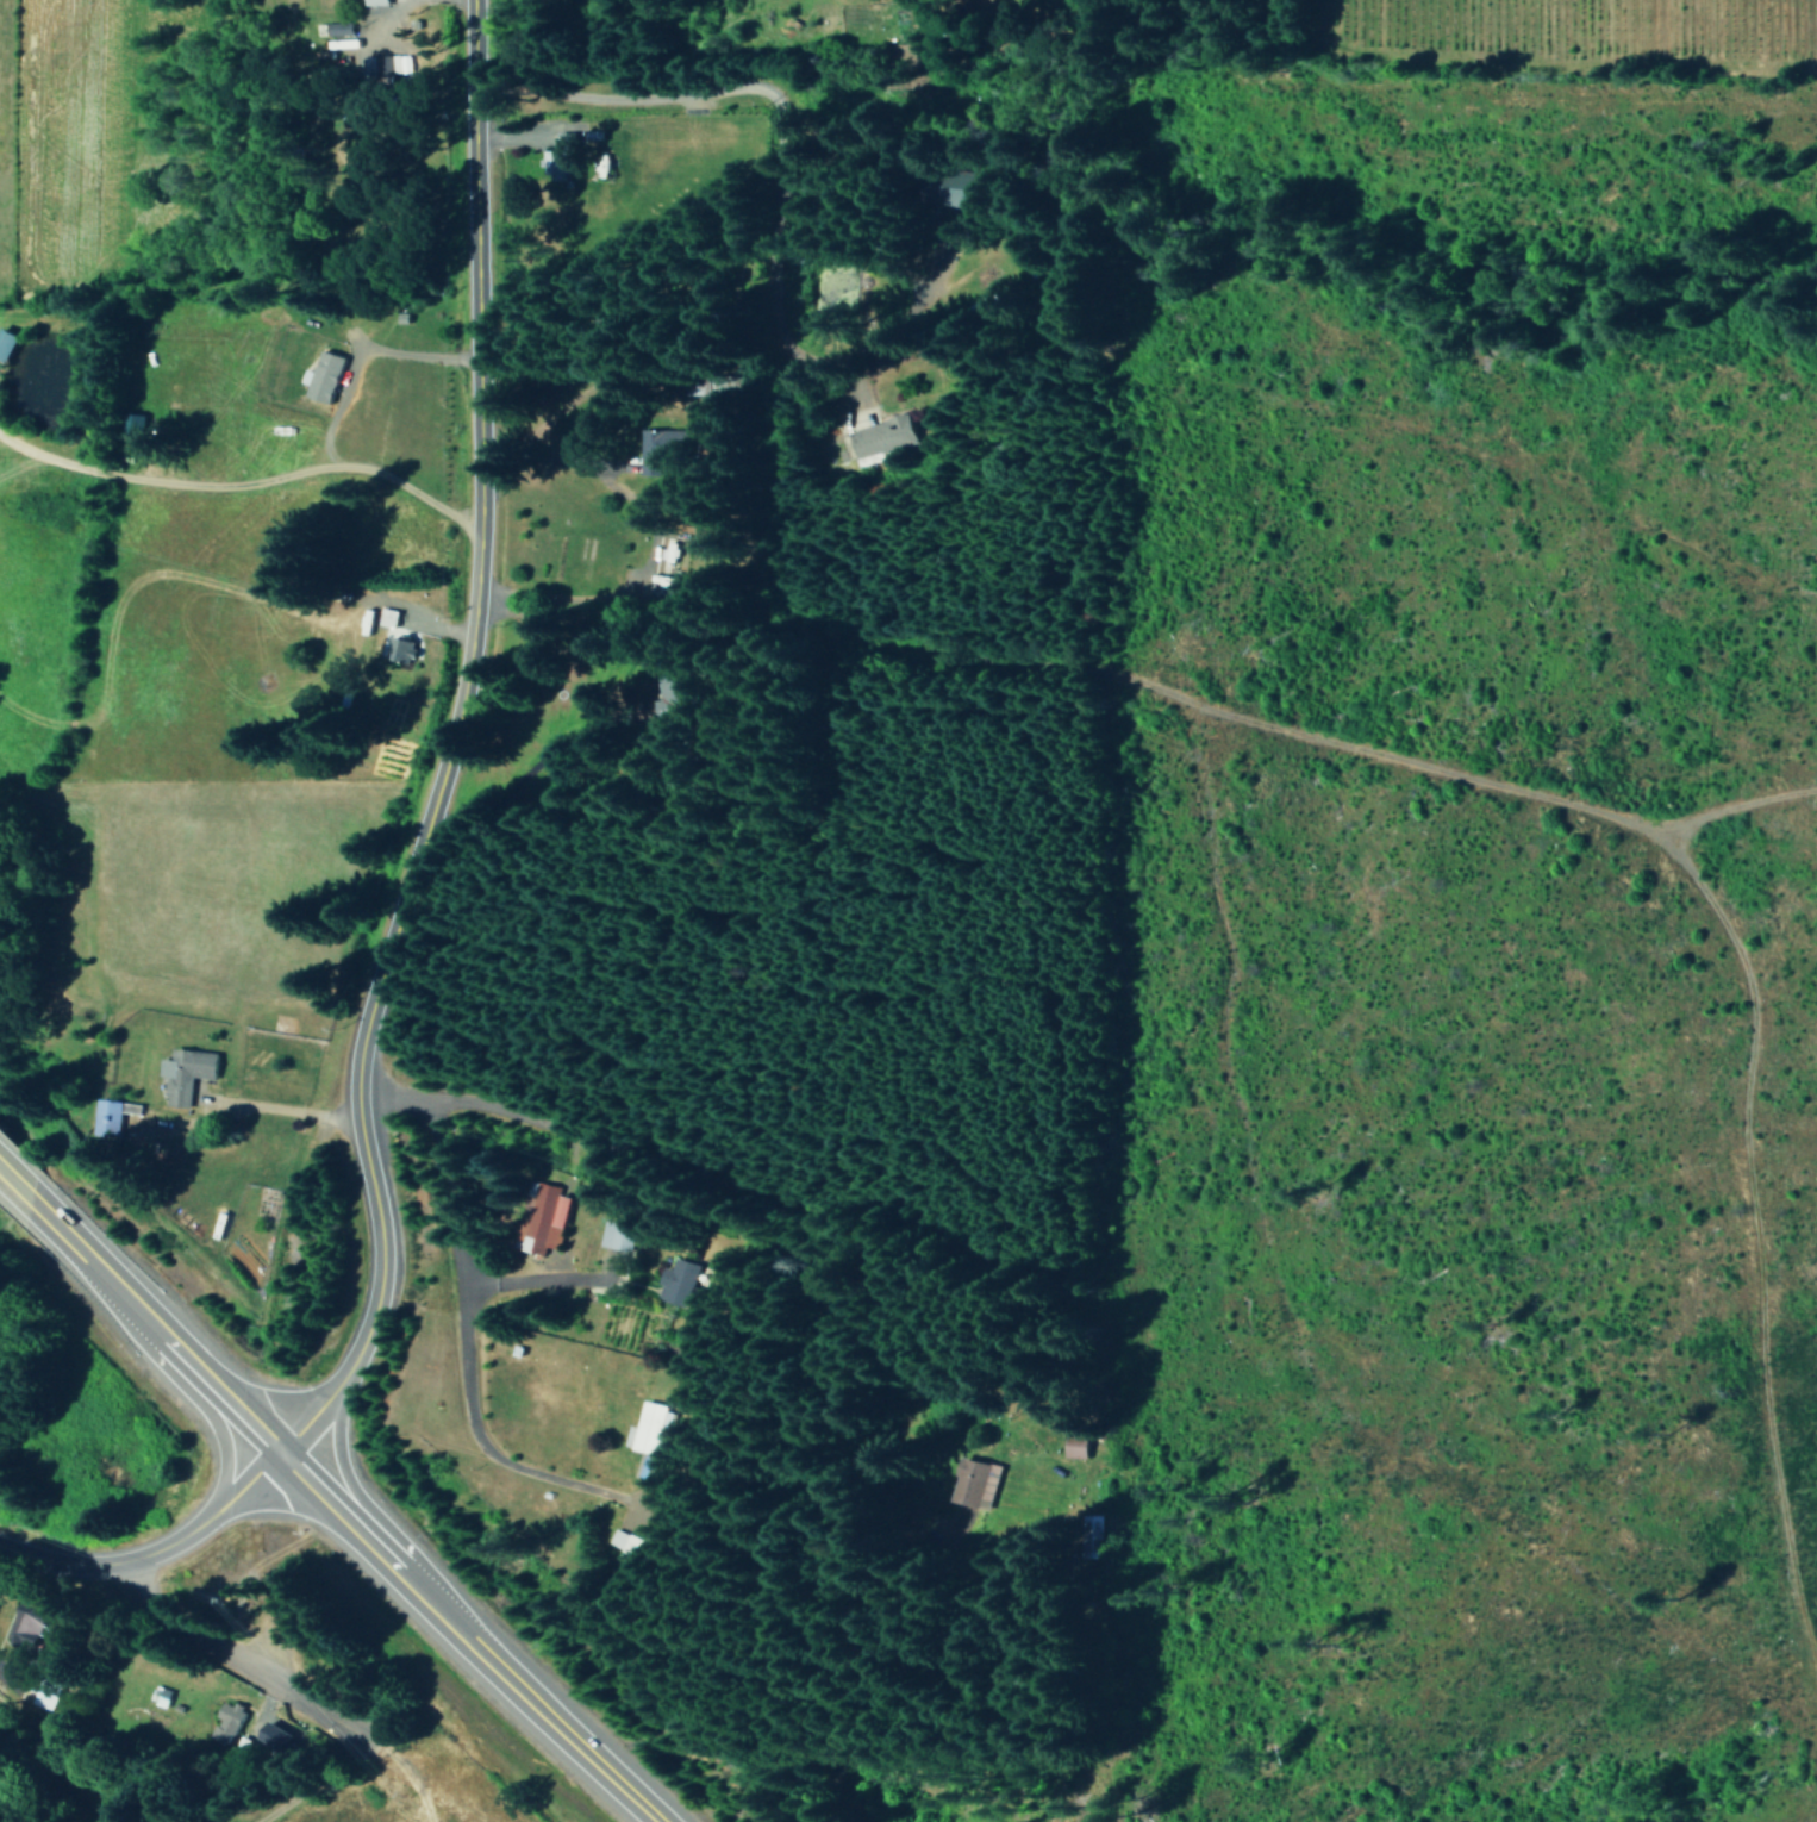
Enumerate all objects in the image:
building: (375, 2)
building: (336, 27)
building: (397, 63)
road: (619, 102)
building: (560, 157)
building: (960, 188)
road: (798, 333)
building: (7, 343)
building: (324, 376)
building: (137, 423)
building: (879, 436)
building: (662, 449)
building: (389, 617)
building: (404, 649)
building: (672, 699)
road: (399, 748)
road: (451, 896)
building: (188, 1073)
building: (110, 1117)
building: (544, 1217)
road: (49, 1225)
building: (618, 1235)
road: (797, 1246)
building: (679, 1280)
road: (444, 1285)
road: (1761, 1285)
road: (187, 1368)
building: (649, 1429)
building: (1078, 1445)
road: (476, 1447)
building: (981, 1483)
building: (637, 1543)
road: (152, 1552)
building: (32, 1624)
road: (461, 1641)
building: (48, 1691)
building: (227, 1721)
building: (276, 1737)
crop: (339, 1798)

